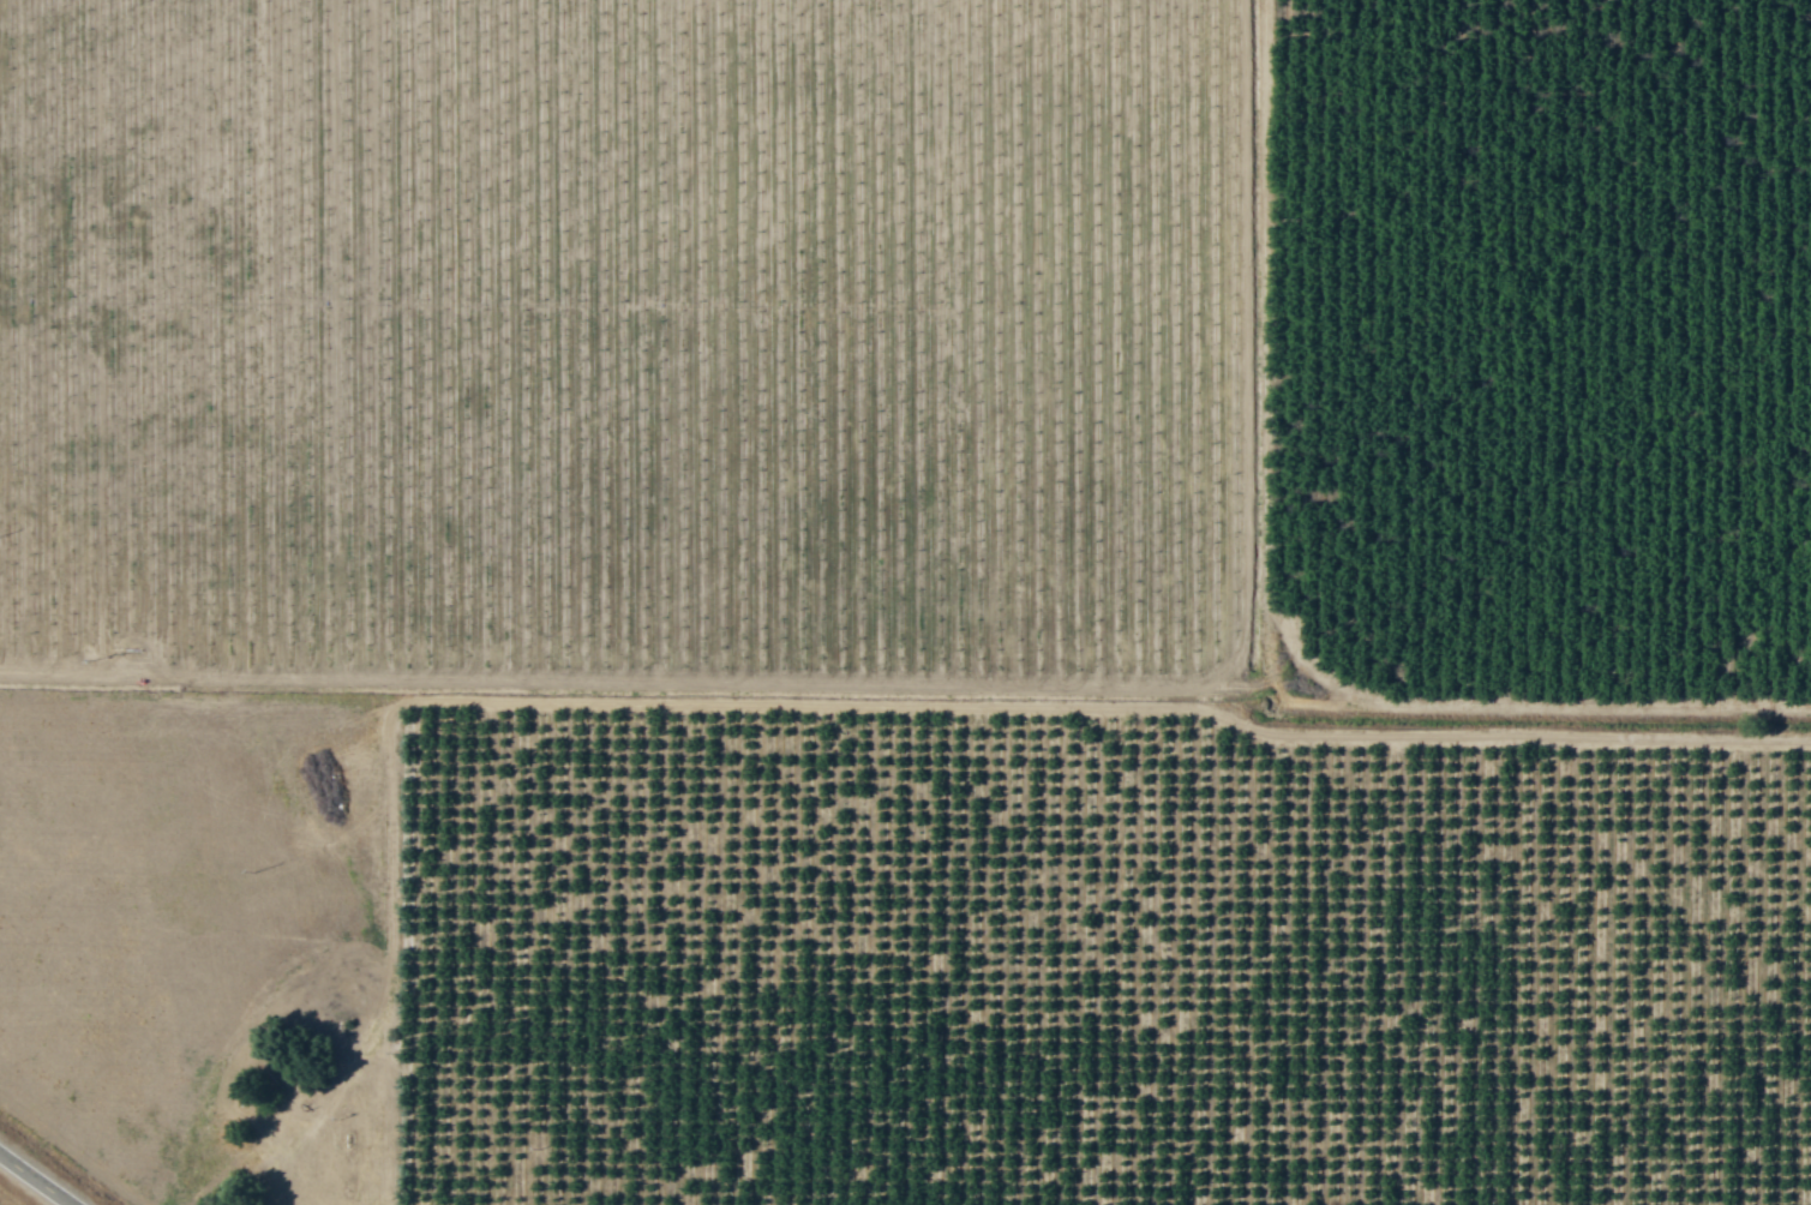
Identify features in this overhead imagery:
road: (38, 1176)

